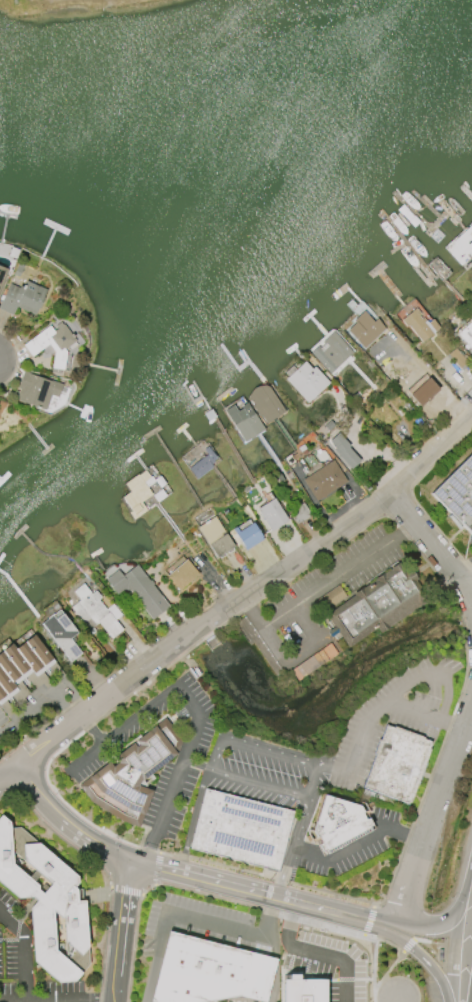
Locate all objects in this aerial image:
river: (249, 135)
building: (462, 245)
building: (18, 270)
building: (2, 276)
building: (22, 298)
building: (416, 324)
building: (365, 330)
building: (466, 334)
building: (52, 345)
building: (331, 352)
road: (17, 356)
building: (458, 359)
building: (306, 381)
building: (37, 390)
road: (441, 390)
building: (265, 403)
building: (244, 422)
building: (344, 451)
building: (202, 464)
building: (325, 481)
building: (139, 492)
building: (457, 493)
building: (158, 495)
road: (412, 496)
building: (300, 513)
building: (273, 515)
building: (248, 536)
building: (216, 537)
road: (433, 547)
building: (182, 574)
road: (466, 577)
road: (218, 584)
building: (138, 590)
road: (246, 594)
building: (371, 604)
road: (302, 610)
building: (96, 612)
road: (467, 614)
building: (62, 634)
building: (313, 662)
road: (427, 670)
building: (23, 671)
road: (43, 702)
road: (58, 709)
road: (112, 709)
road: (375, 710)
road: (139, 711)
road: (91, 727)
road: (251, 742)
road: (84, 755)
building: (396, 764)
road: (432, 766)
road: (178, 771)
road: (6, 773)
building: (132, 775)
road: (313, 780)
road: (257, 781)
road: (431, 812)
road: (191, 820)
building: (336, 824)
building: (240, 830)
road: (58, 836)
road: (355, 844)
road: (290, 846)
traffic signals: (133, 861)
road: (145, 864)
road: (156, 868)
road: (468, 872)
road: (147, 888)
road: (126, 891)
building: (46, 904)
road: (259, 908)
road: (170, 909)
road: (272, 914)
road: (371, 914)
road: (396, 921)
road: (366, 928)
road: (120, 931)
road: (391, 936)
road: (384, 942)
road: (428, 942)
road: (454, 944)
road: (104, 945)
road: (408, 946)
road: (132, 948)
road: (22, 955)
road: (308, 961)
road: (275, 966)
road: (388, 970)
road: (374, 971)
building: (209, 972)
building: (300, 995)
road: (396, 1000)

